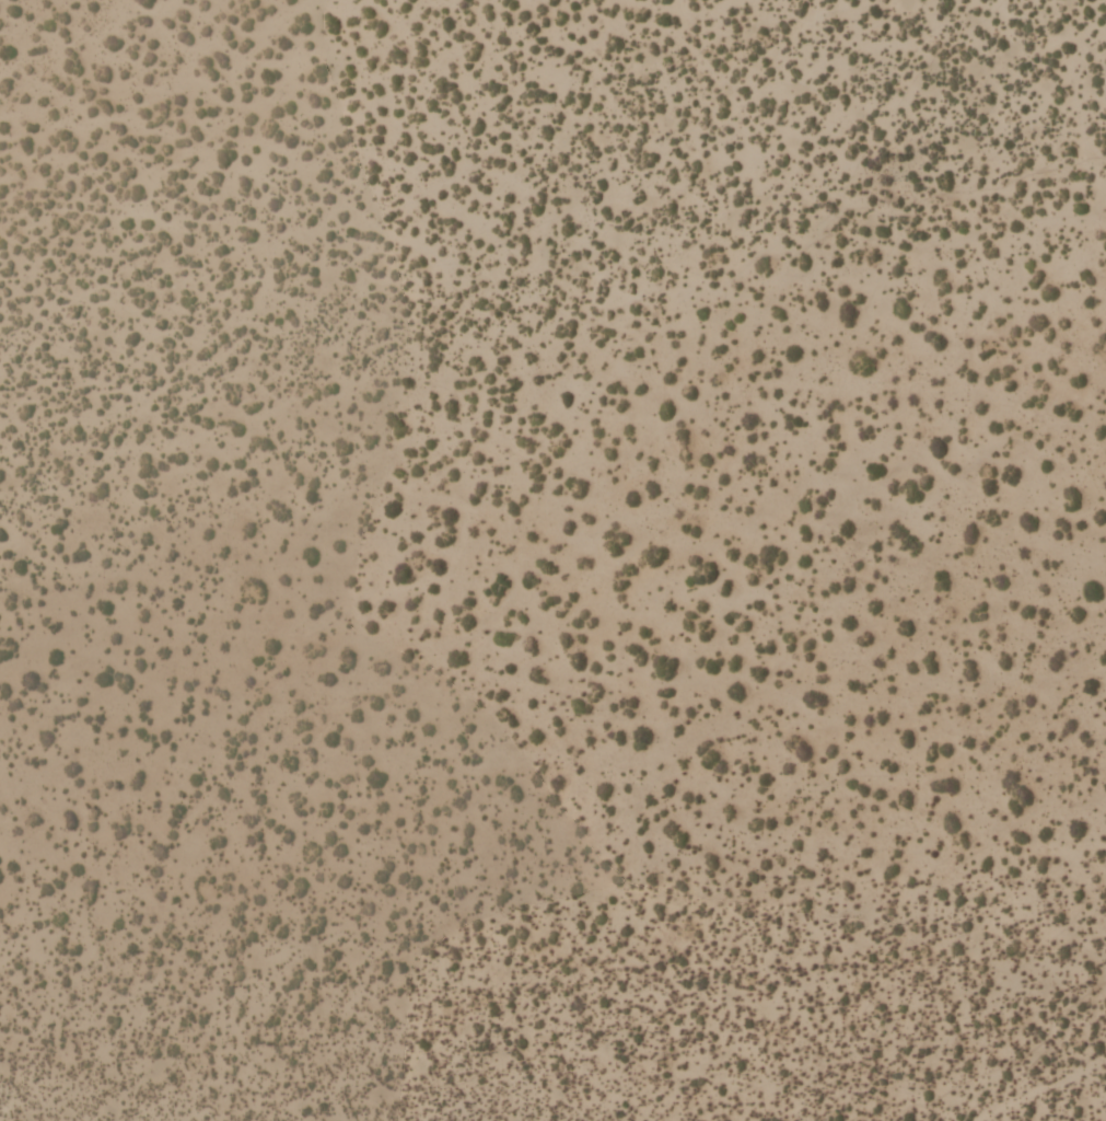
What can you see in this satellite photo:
road: (1038, 1089)

